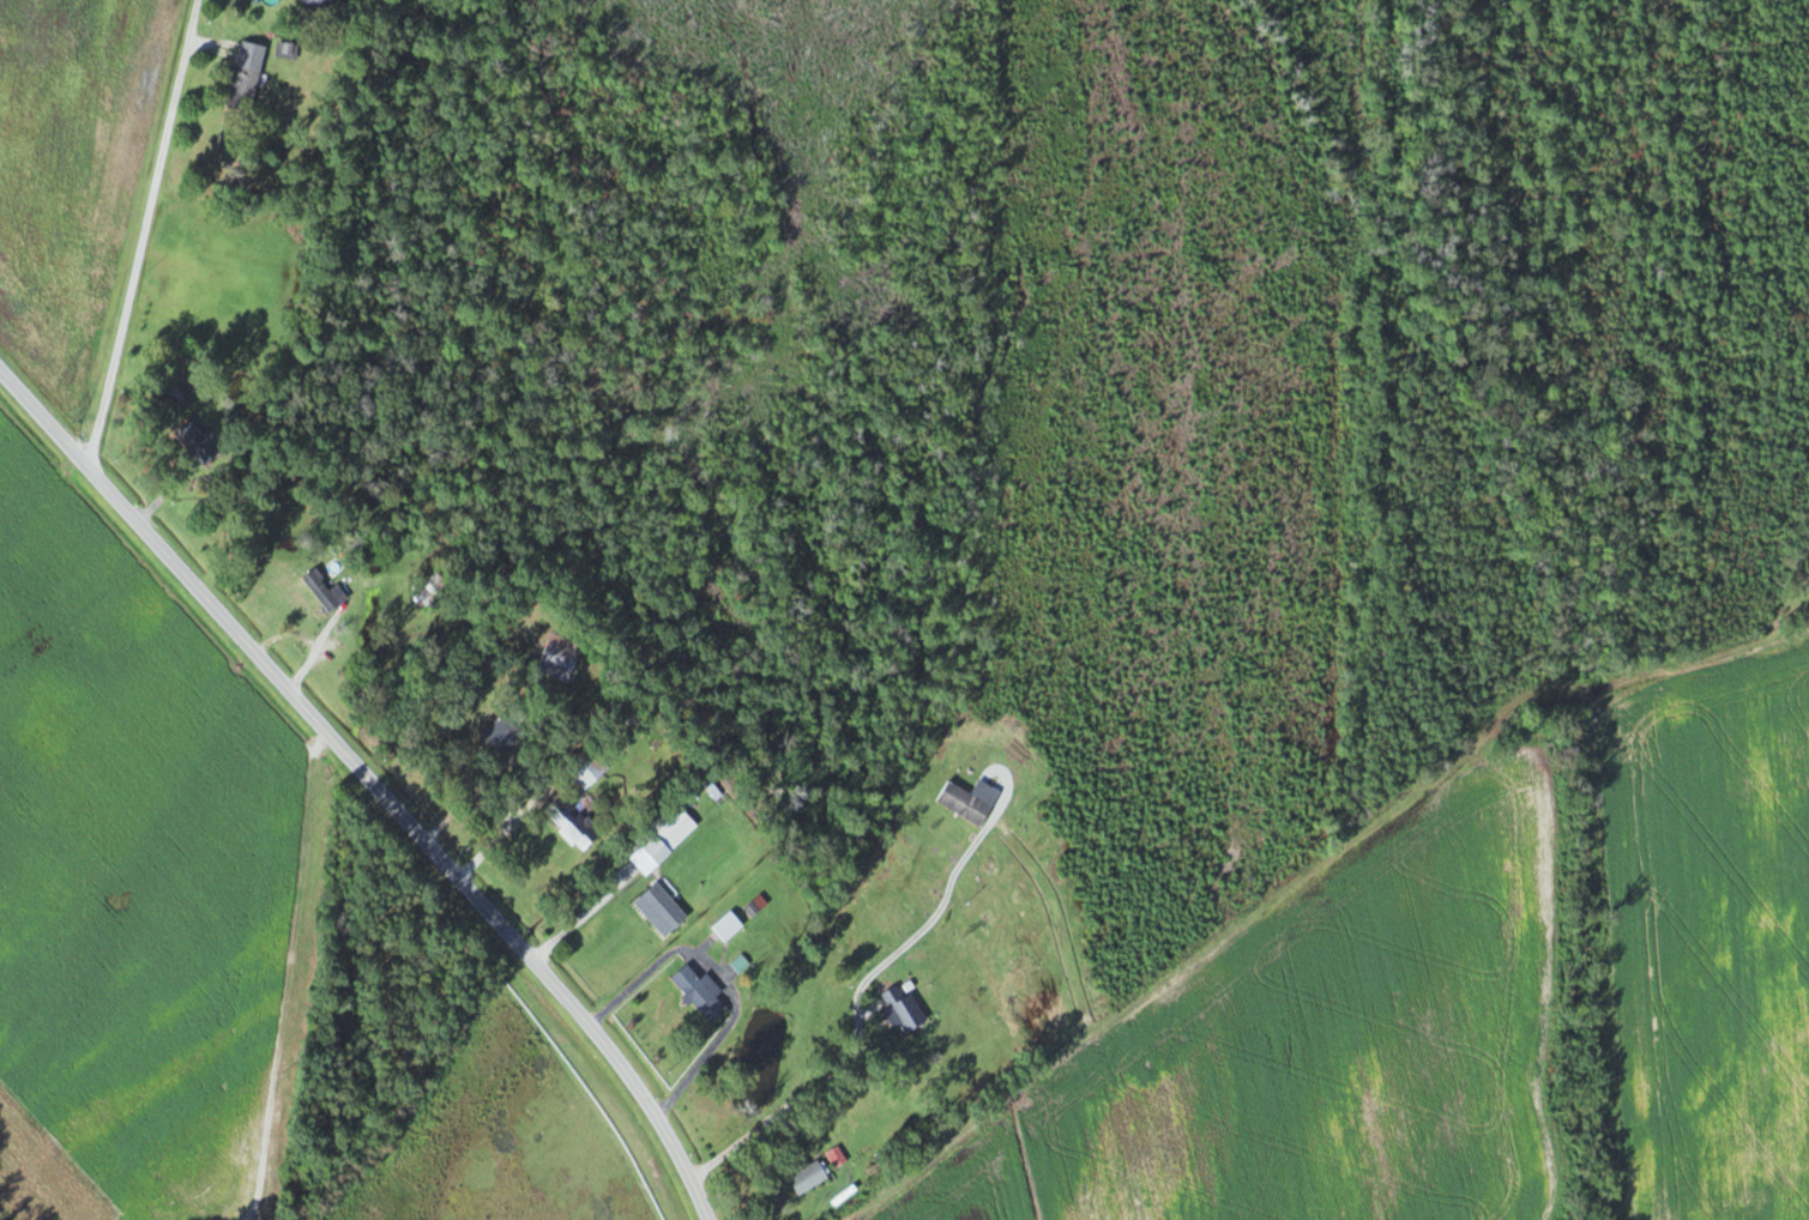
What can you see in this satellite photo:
building: (324, 4)
building: (246, 77)
road: (149, 228)
building: (198, 442)
building: (325, 591)
building: (502, 733)
building: (589, 767)
road: (373, 784)
building: (964, 803)
building: (573, 823)
building: (669, 834)
building: (661, 910)
building: (728, 926)
building: (685, 979)
building: (904, 1010)
building: (837, 1156)
building: (808, 1178)

